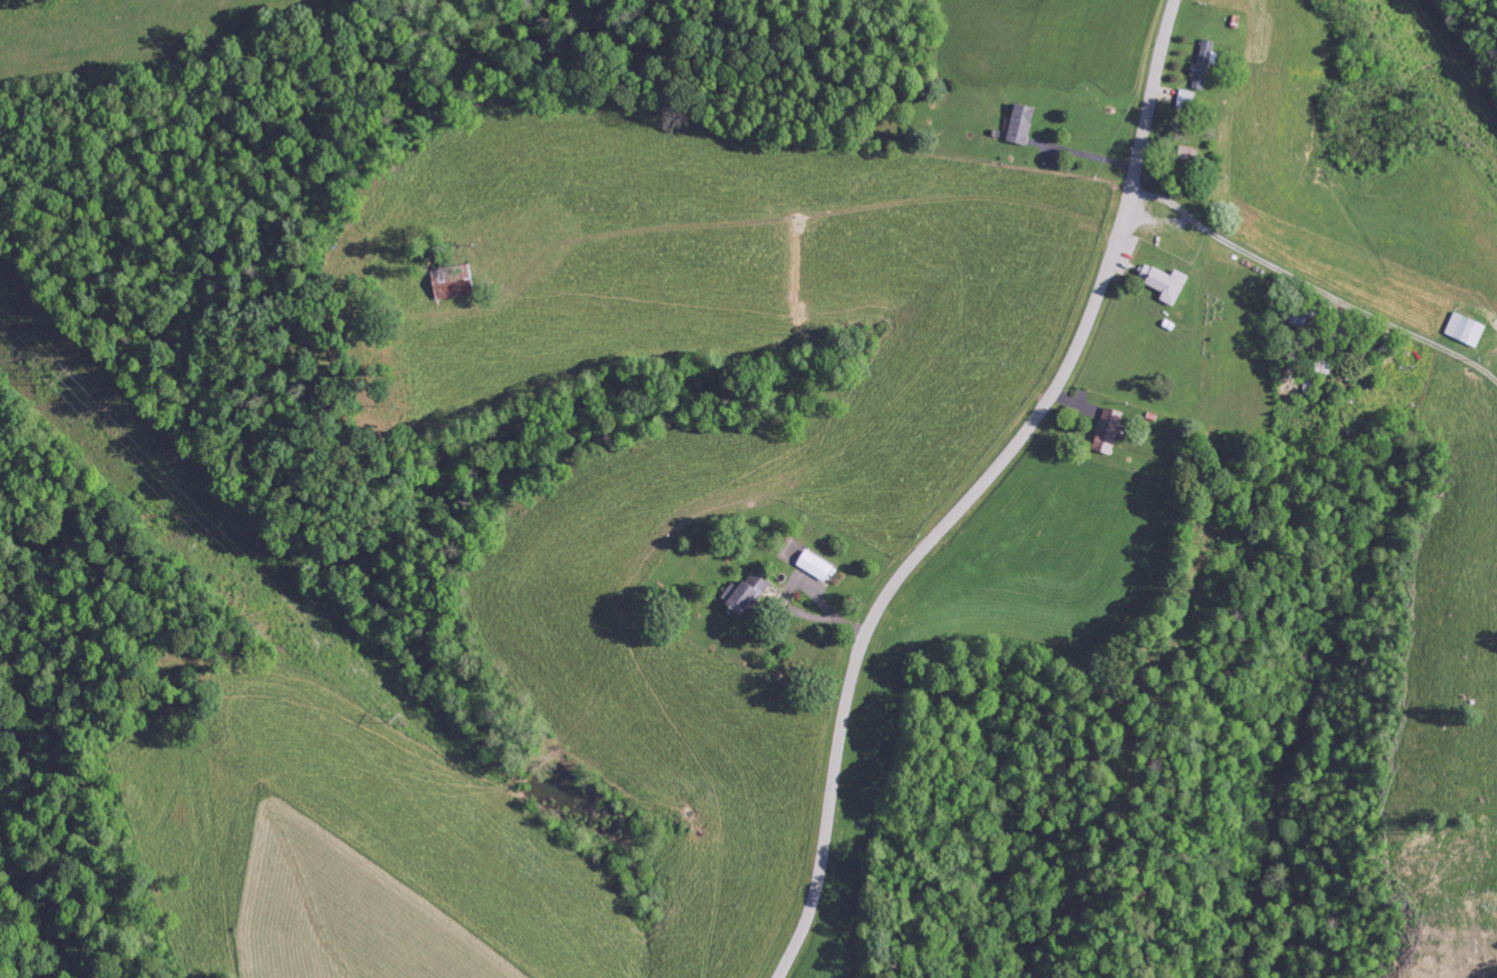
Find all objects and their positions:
building: (1202, 66)
building: (1018, 125)
road: (1425, 253)
building: (456, 283)
building: (1161, 284)
building: (1462, 331)
power tower: (56, 380)
building: (1111, 430)
road: (976, 490)
building: (750, 592)
power tower: (398, 716)

